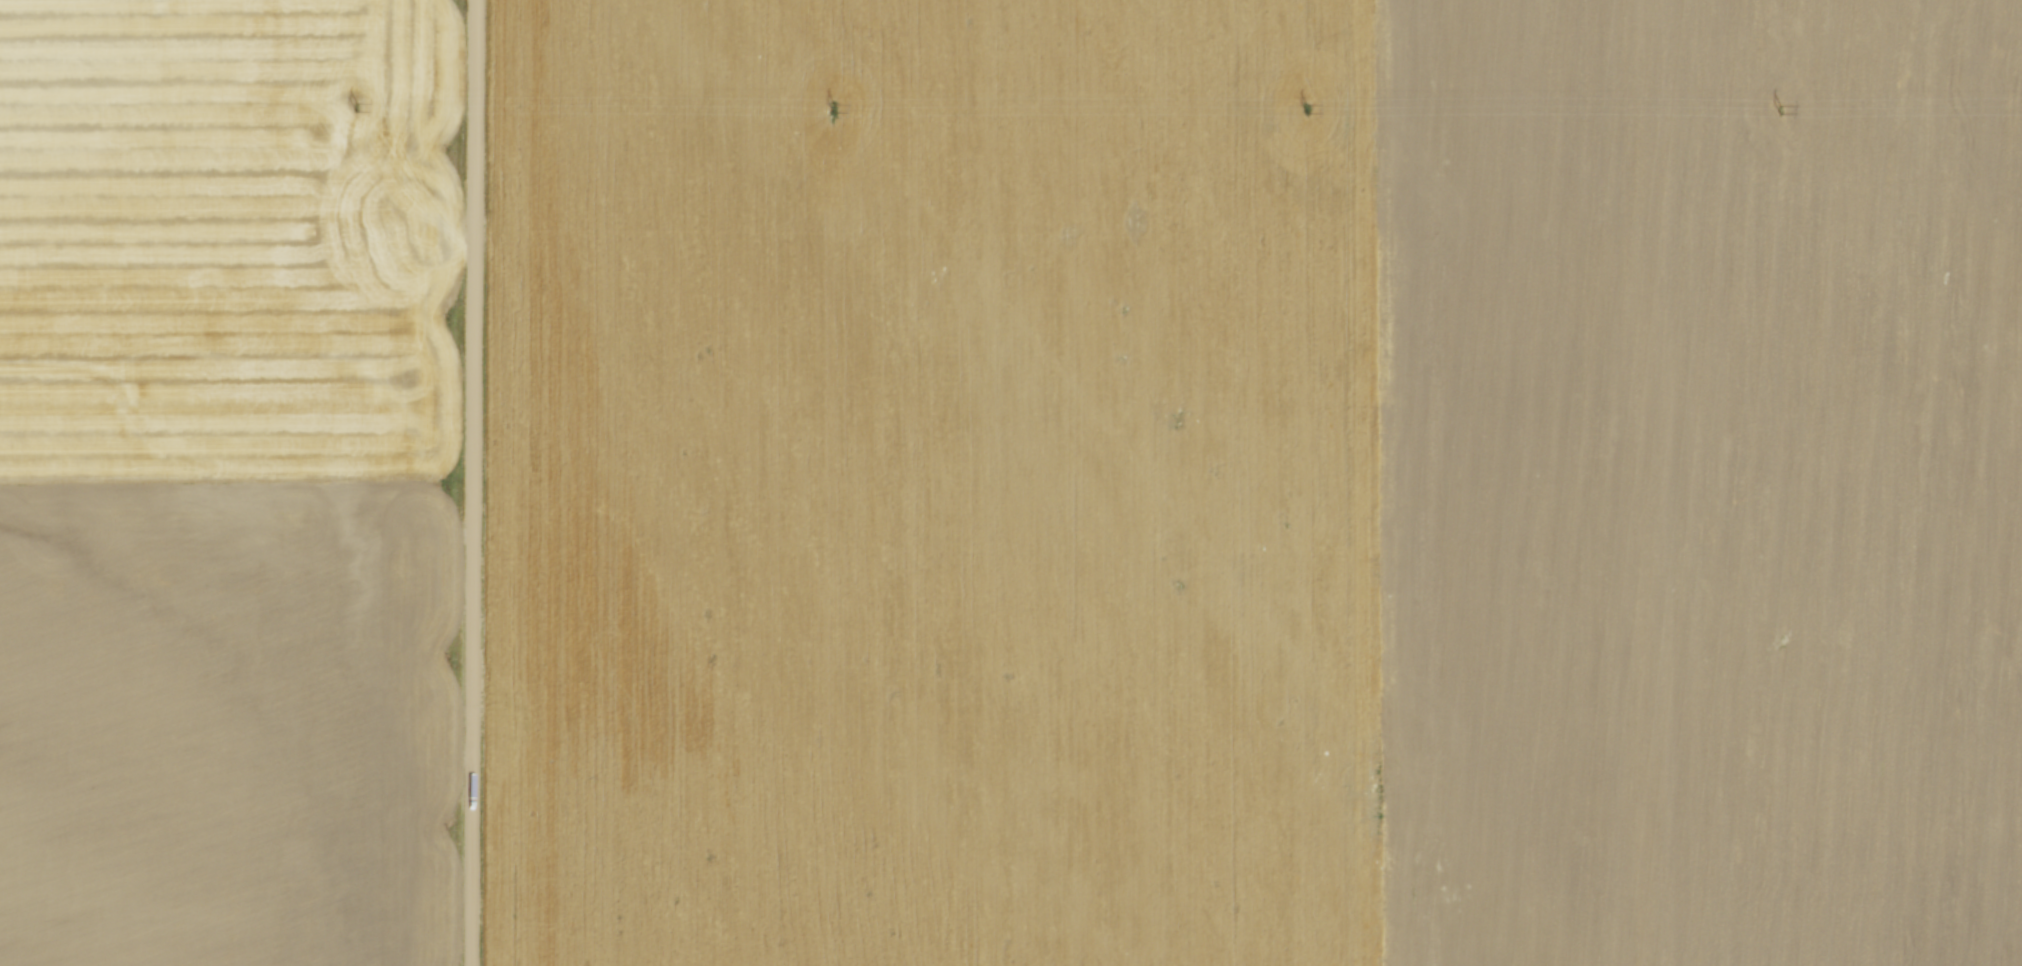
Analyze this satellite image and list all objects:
power tower: (357, 108)
power tower: (833, 109)
power tower: (1307, 110)
power tower: (1781, 111)
crop: (229, 482)
road: (473, 482)
crop: (1256, 483)

